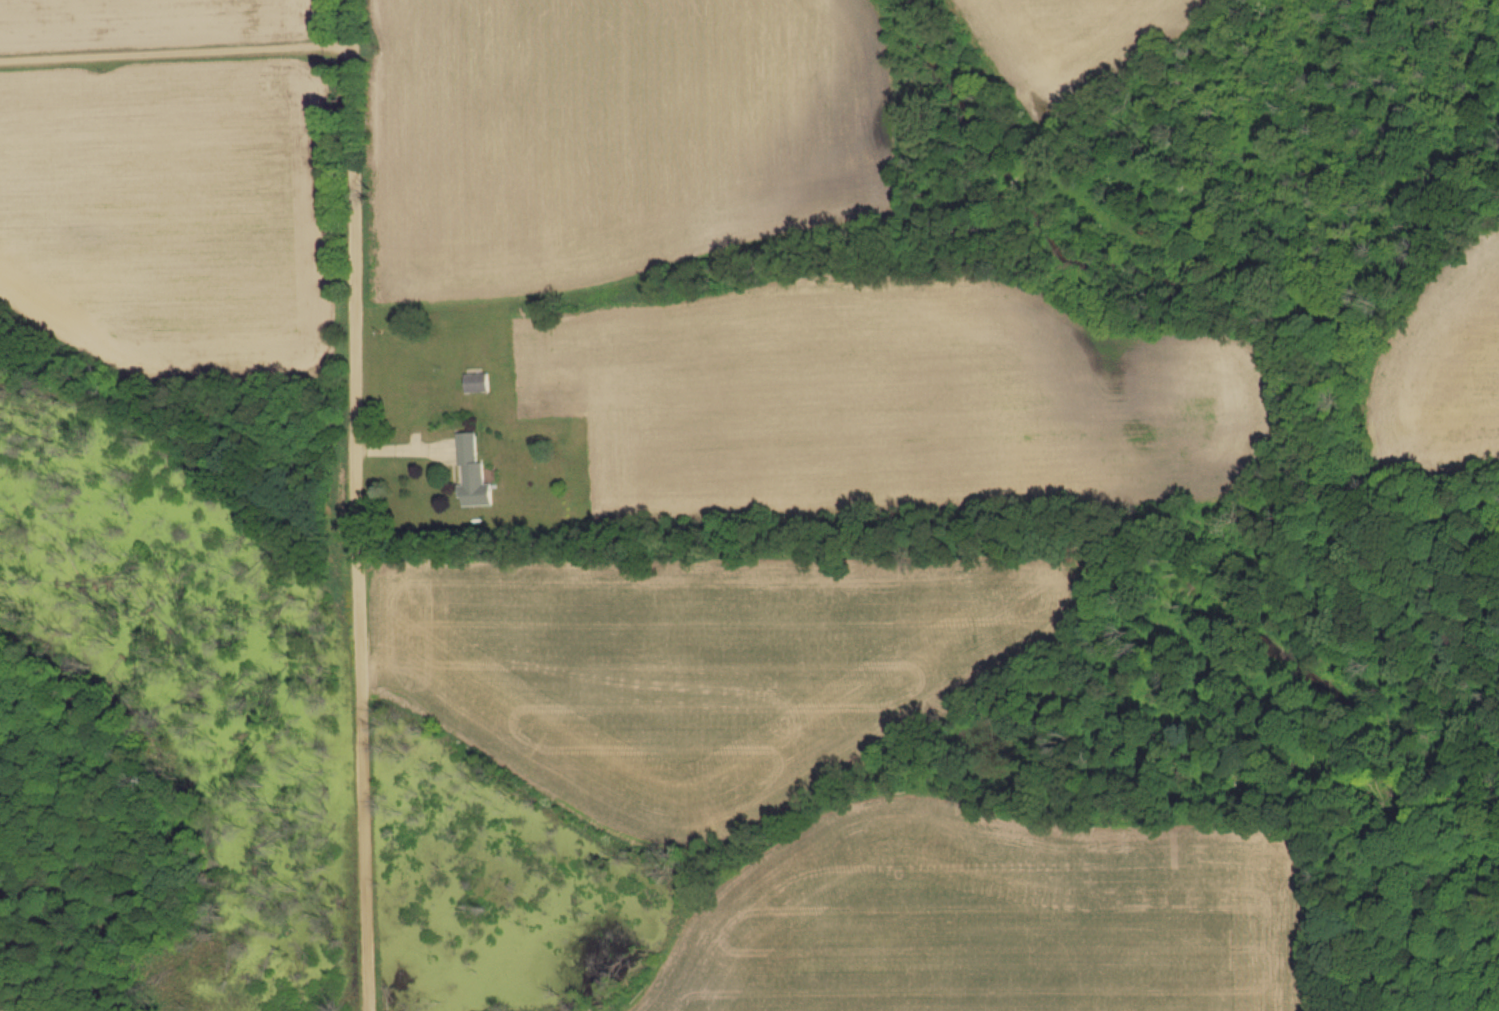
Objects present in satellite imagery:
road: (175, 53)
building: (476, 385)
building: (473, 475)
road: (354, 505)
crop: (1, 1010)

